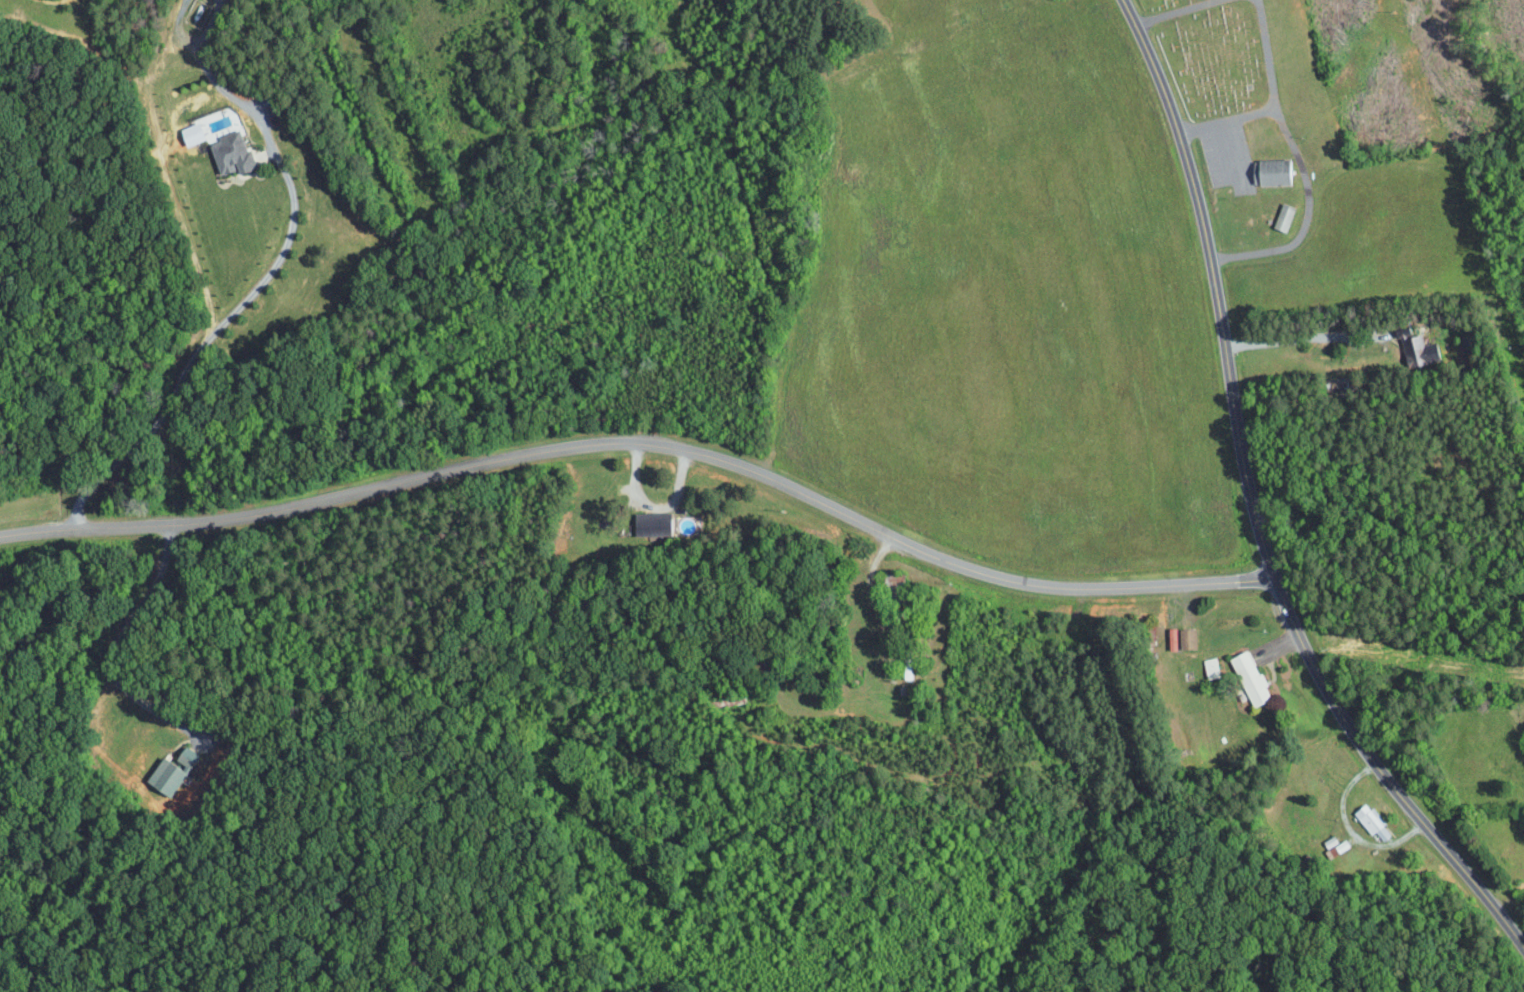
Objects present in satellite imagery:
road: (209, 24)
road: (178, 25)
road: (1224, 151)
building: (228, 154)
road: (1302, 168)
building: (1272, 172)
building: (1282, 217)
road: (245, 299)
road: (1314, 340)
building: (1414, 348)
road: (652, 450)
road: (1264, 500)
road: (652, 506)
building: (651, 523)
building: (1186, 637)
building: (1171, 639)
road: (112, 652)
building: (1249, 677)
building: (185, 757)
building: (163, 776)
building: (1369, 821)
building: (1329, 841)
building: (1336, 848)

